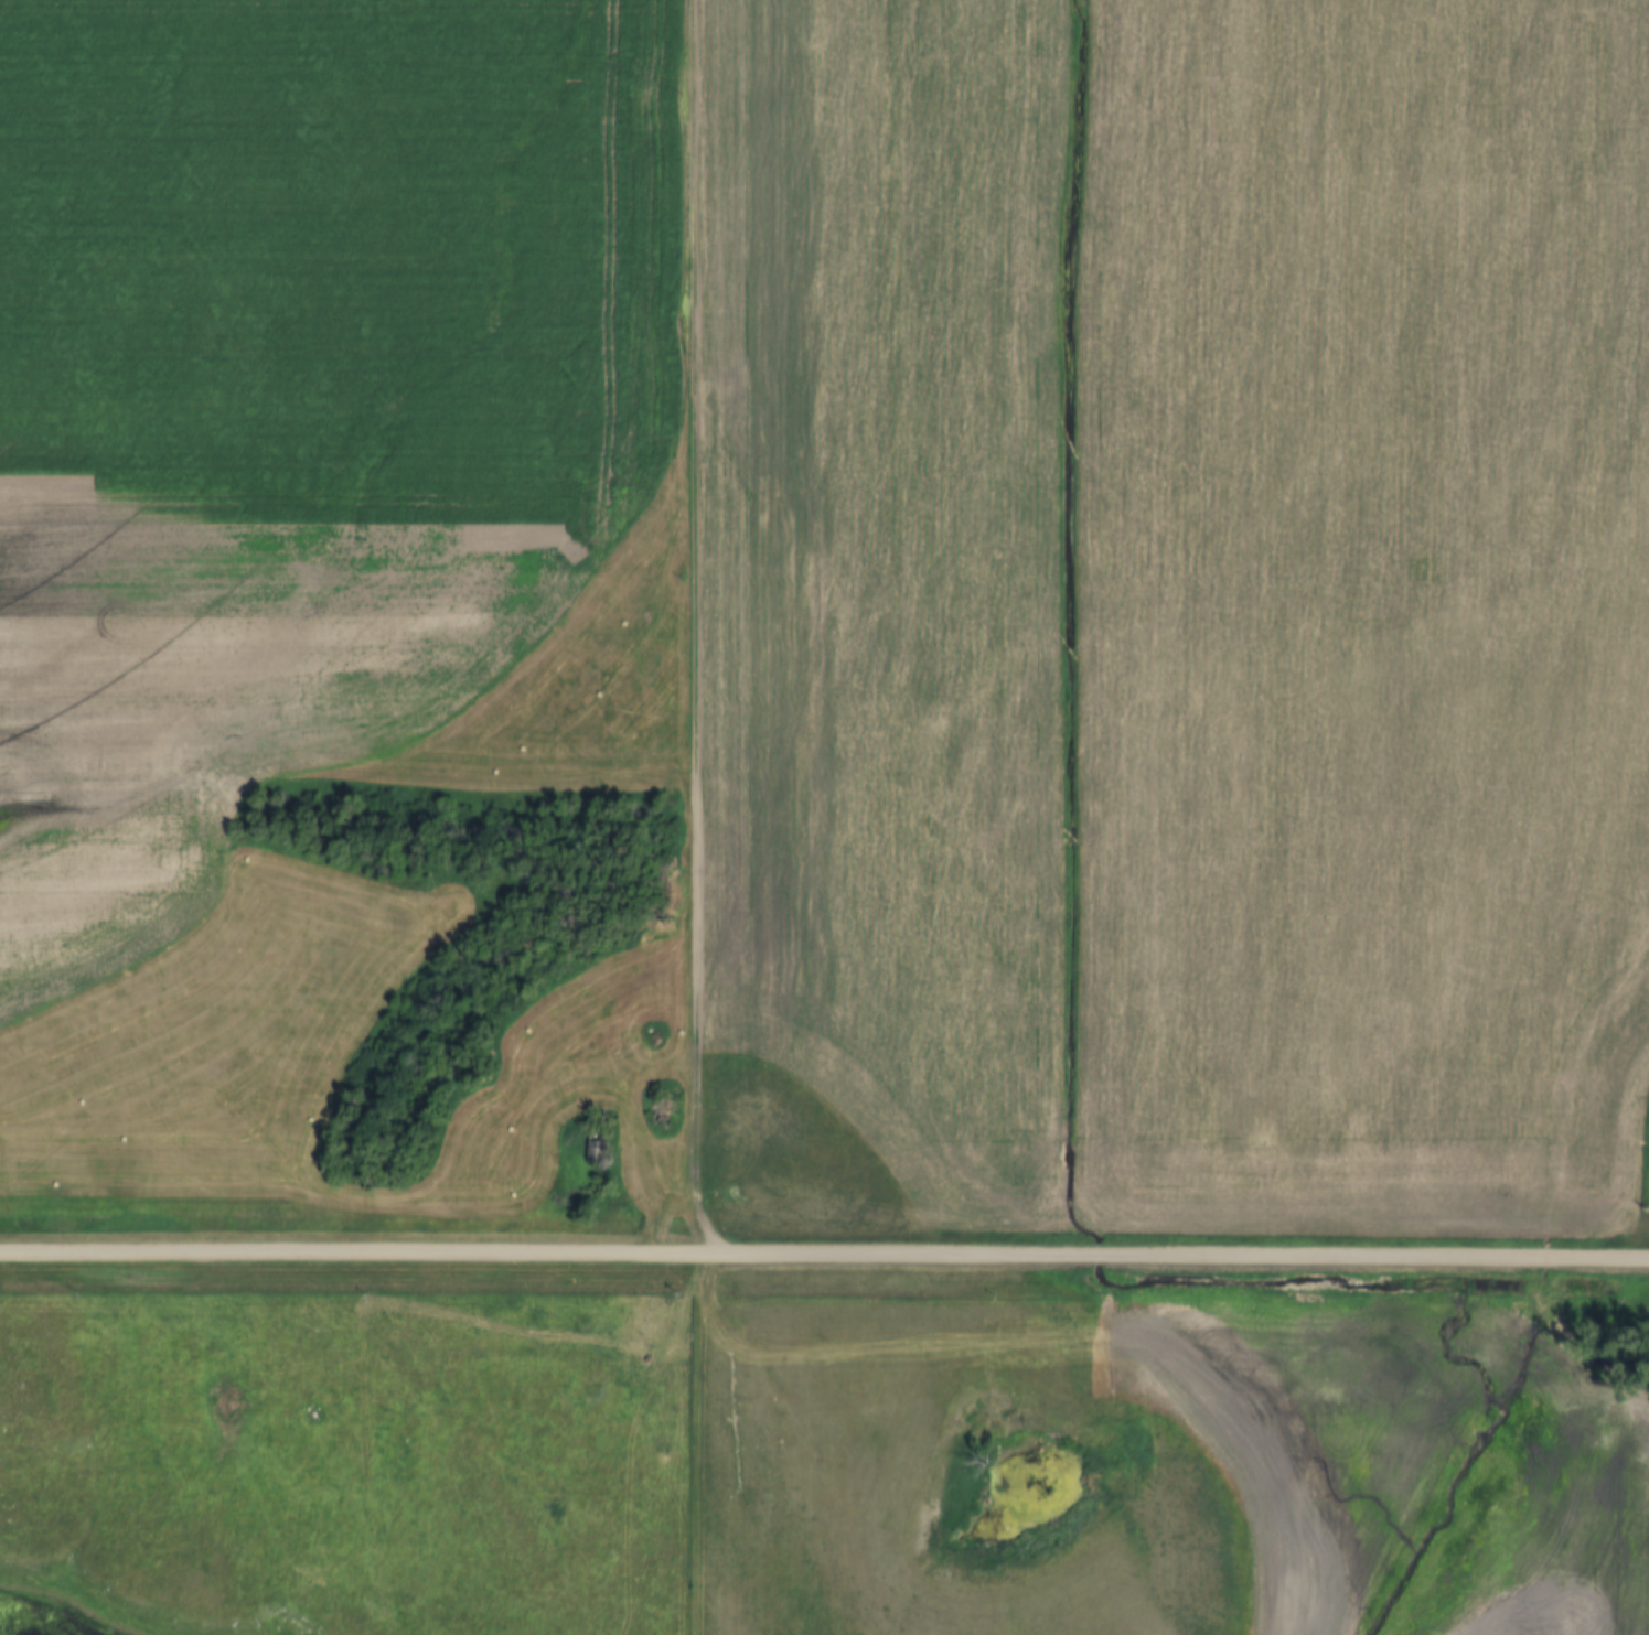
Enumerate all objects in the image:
road: (697, 625)
building: (597, 1152)
road: (824, 1252)

